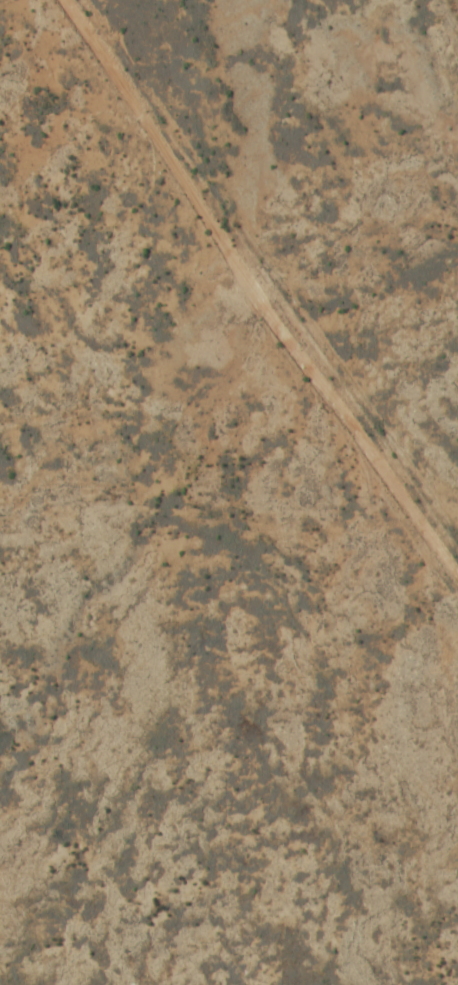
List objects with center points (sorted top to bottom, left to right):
road: (249, 295)

